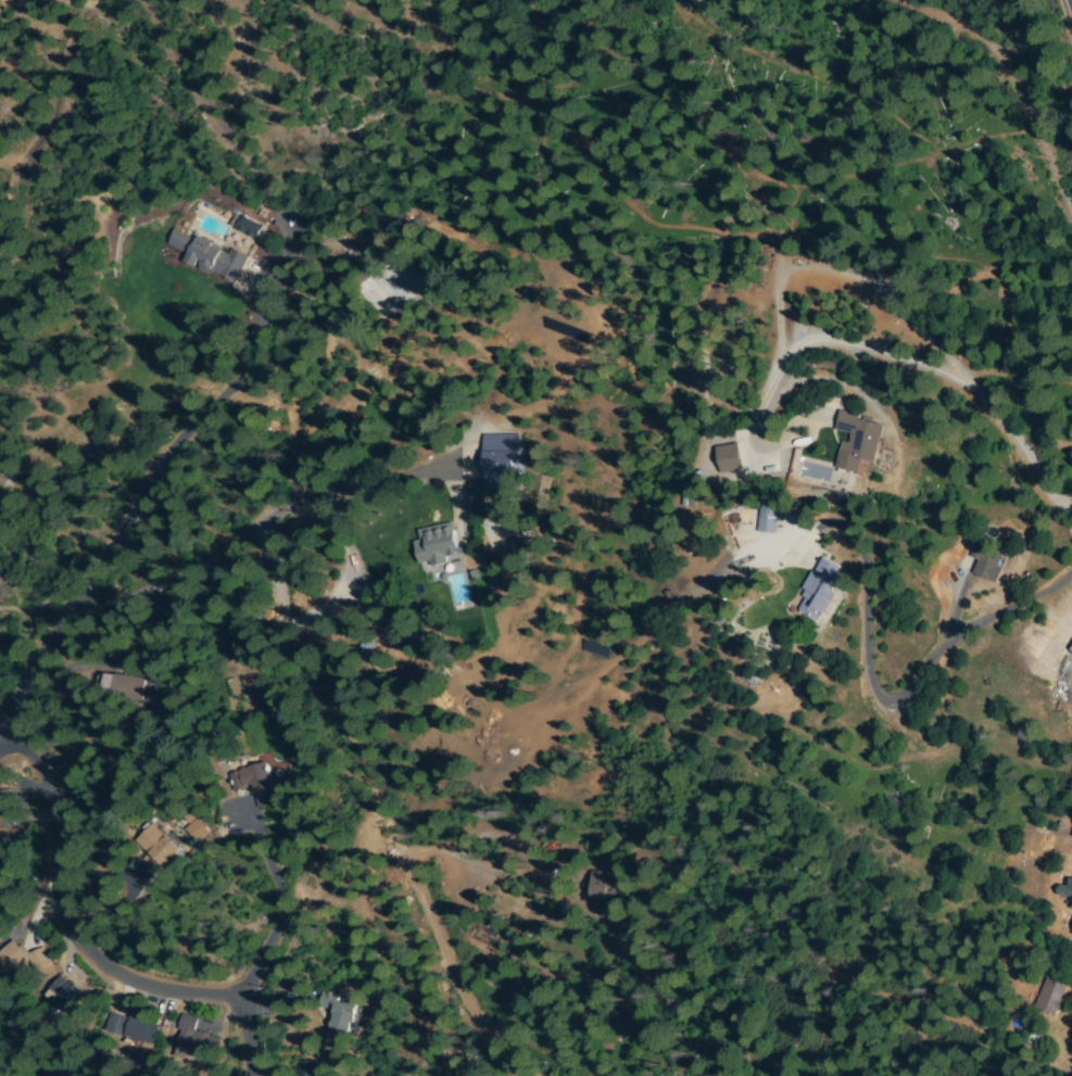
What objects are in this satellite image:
road: (1071, 1)
road: (970, 34)
road: (361, 56)
building: (247, 227)
building: (211, 256)
building: (809, 364)
building: (799, 377)
road: (923, 379)
building: (862, 446)
building: (728, 458)
building: (502, 460)
road: (150, 484)
building: (768, 521)
road: (237, 544)
building: (438, 545)
building: (519, 547)
road: (272, 557)
building: (988, 565)
building: (820, 590)
building: (1070, 648)
road: (858, 649)
building: (124, 685)
road: (8, 723)
building: (256, 784)
building: (10, 812)
building: (198, 832)
building: (155, 847)
building: (3, 884)
building: (605, 886)
road: (62, 889)
building: (1068, 896)
building: (1071, 931)
road: (1035, 955)
building: (12, 959)
building: (40, 959)
building: (64, 993)
building: (1050, 997)
building: (341, 1013)
road: (245, 1018)
building: (117, 1024)
building: (141, 1031)
building: (197, 1041)
building: (306, 1069)
building: (1, 1075)

